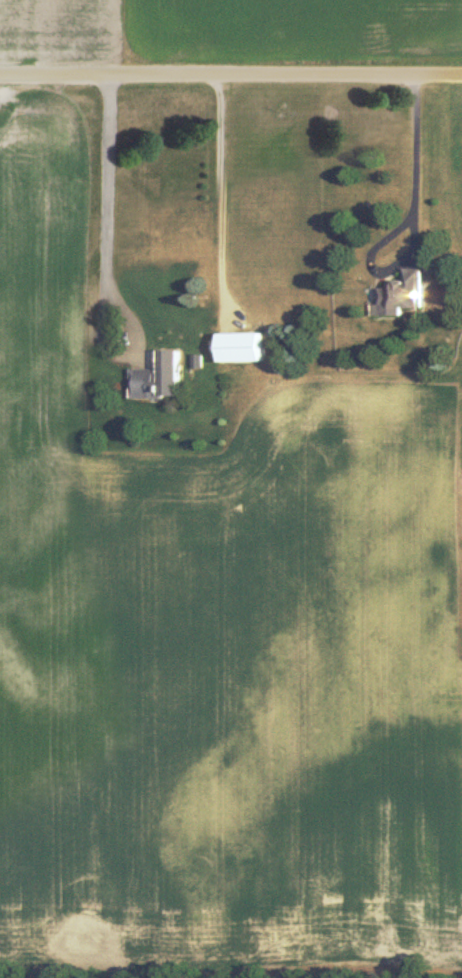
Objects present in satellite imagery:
road: (231, 75)
building: (405, 293)
building: (246, 346)
building: (164, 376)

